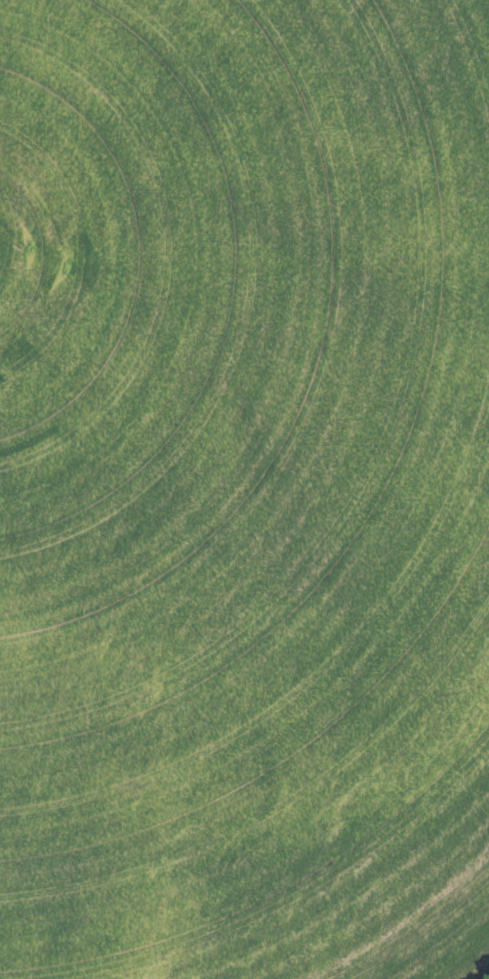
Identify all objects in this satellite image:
wastewater plant: (244, 489)

